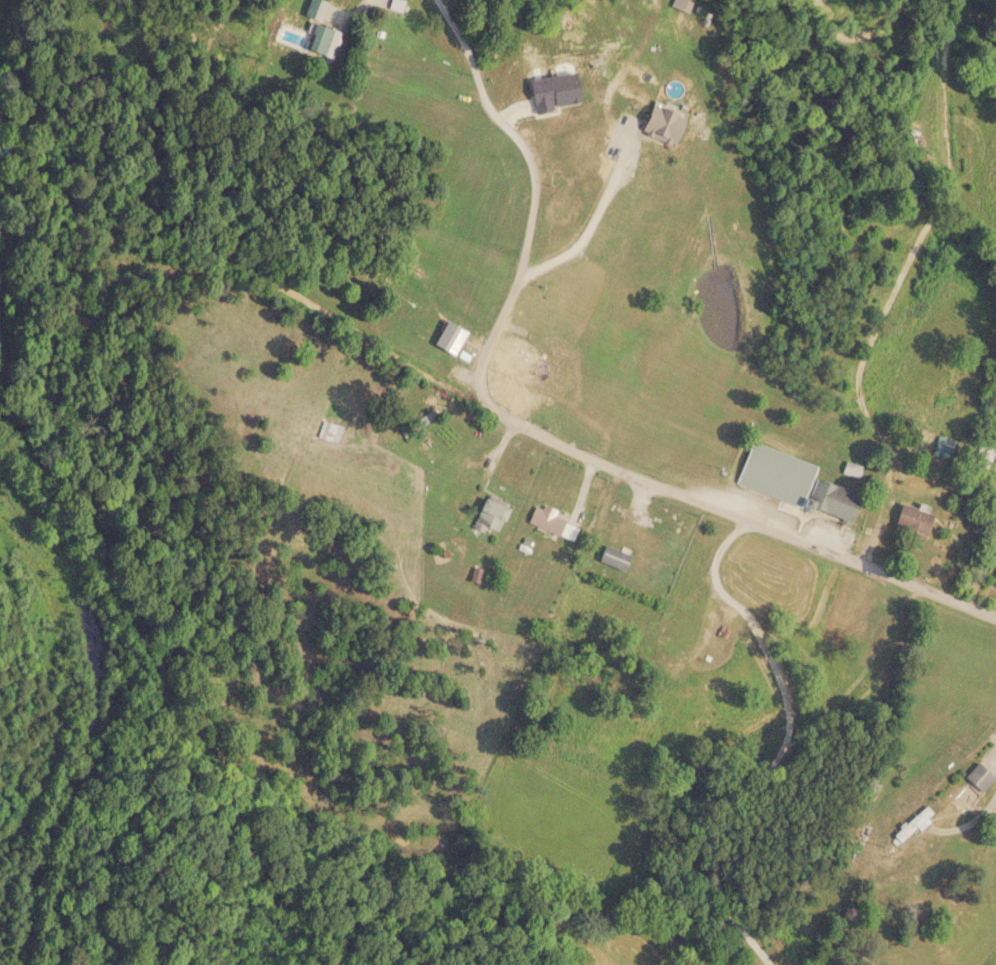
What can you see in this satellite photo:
building: (314, 9)
building: (321, 41)
road: (536, 201)
building: (448, 338)
road: (486, 404)
building: (415, 425)
building: (328, 432)
building: (983, 453)
building: (793, 483)
building: (488, 516)
building: (911, 521)
building: (550, 523)
building: (611, 557)
building: (970, 786)

